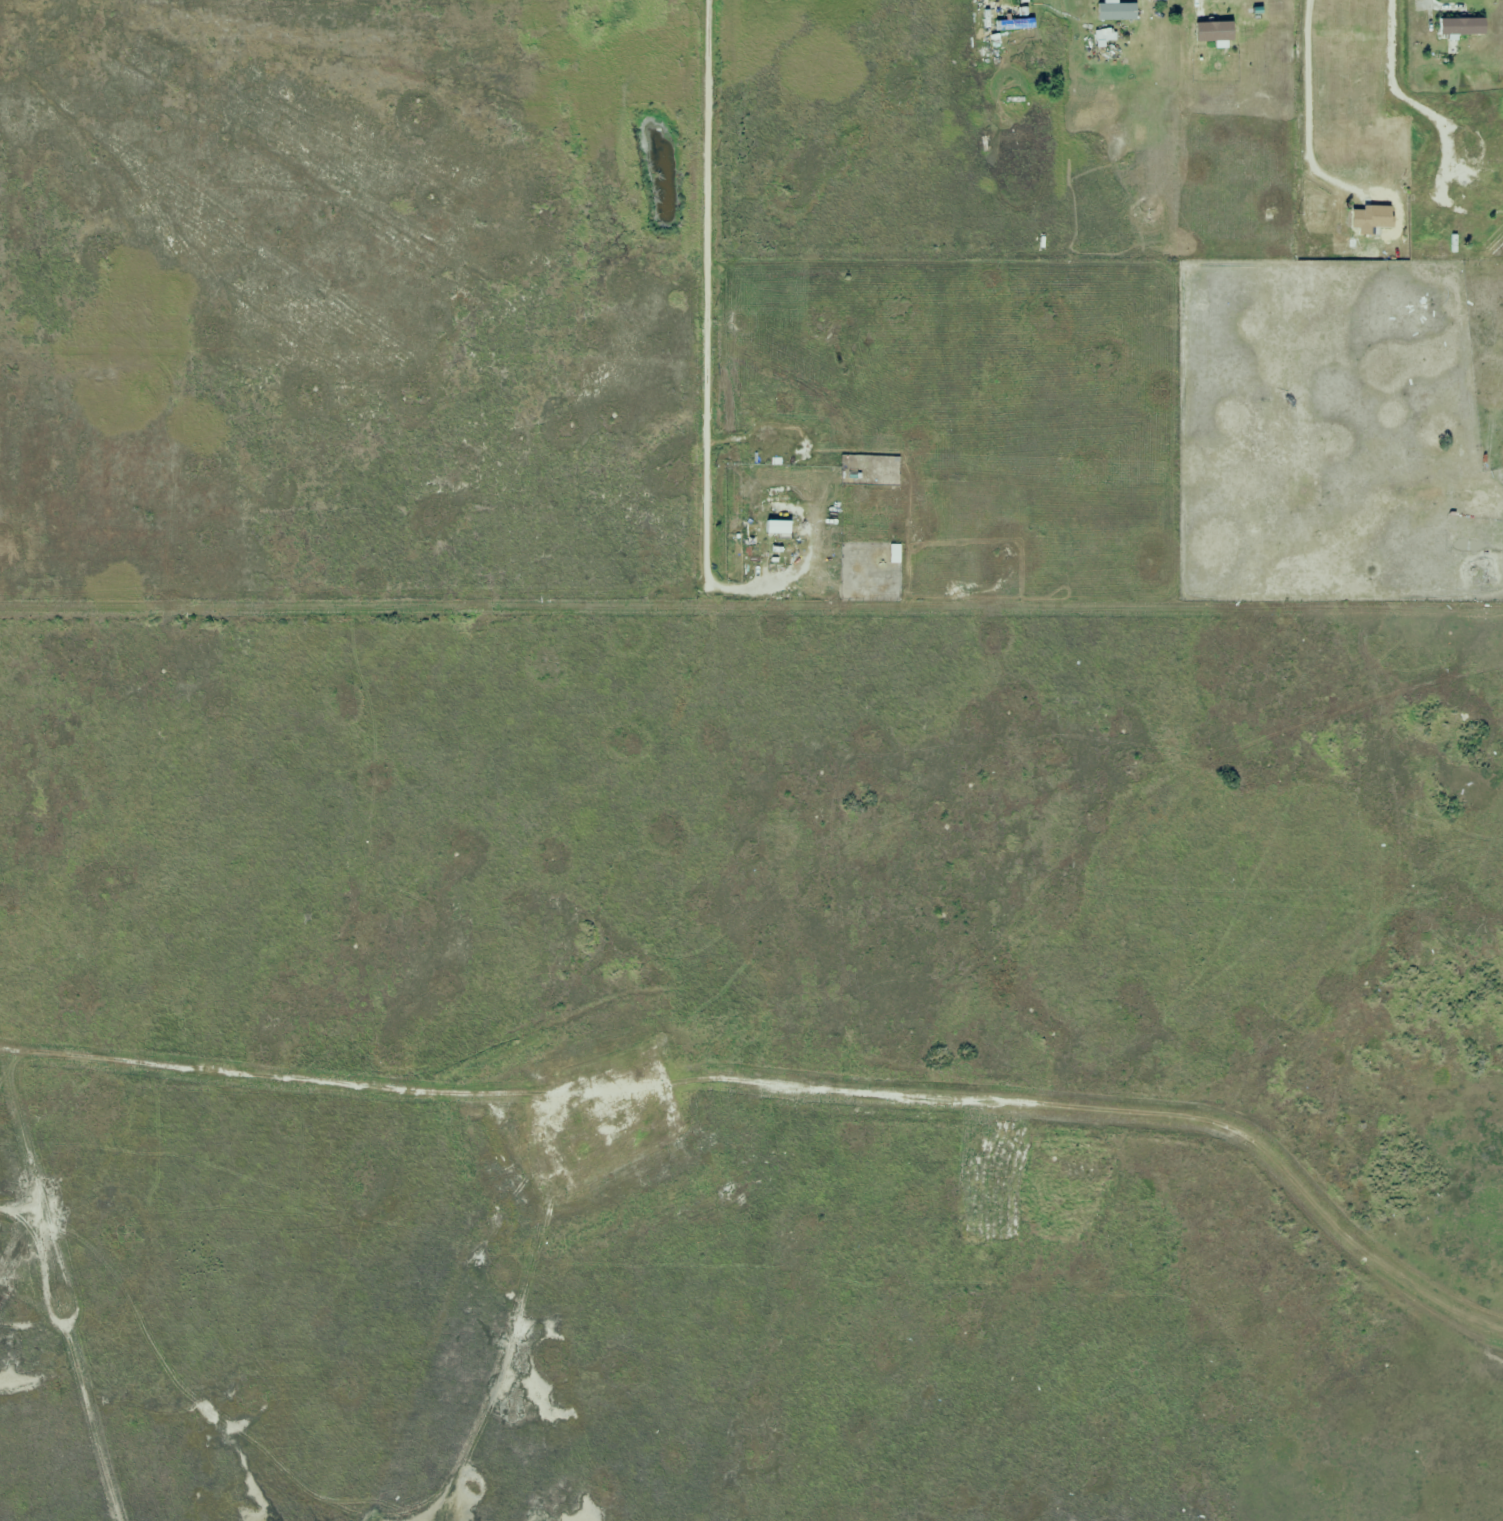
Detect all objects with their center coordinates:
building: (1114, 12)
building: (1457, 27)
building: (1211, 31)
building: (1493, 179)
building: (1492, 241)

